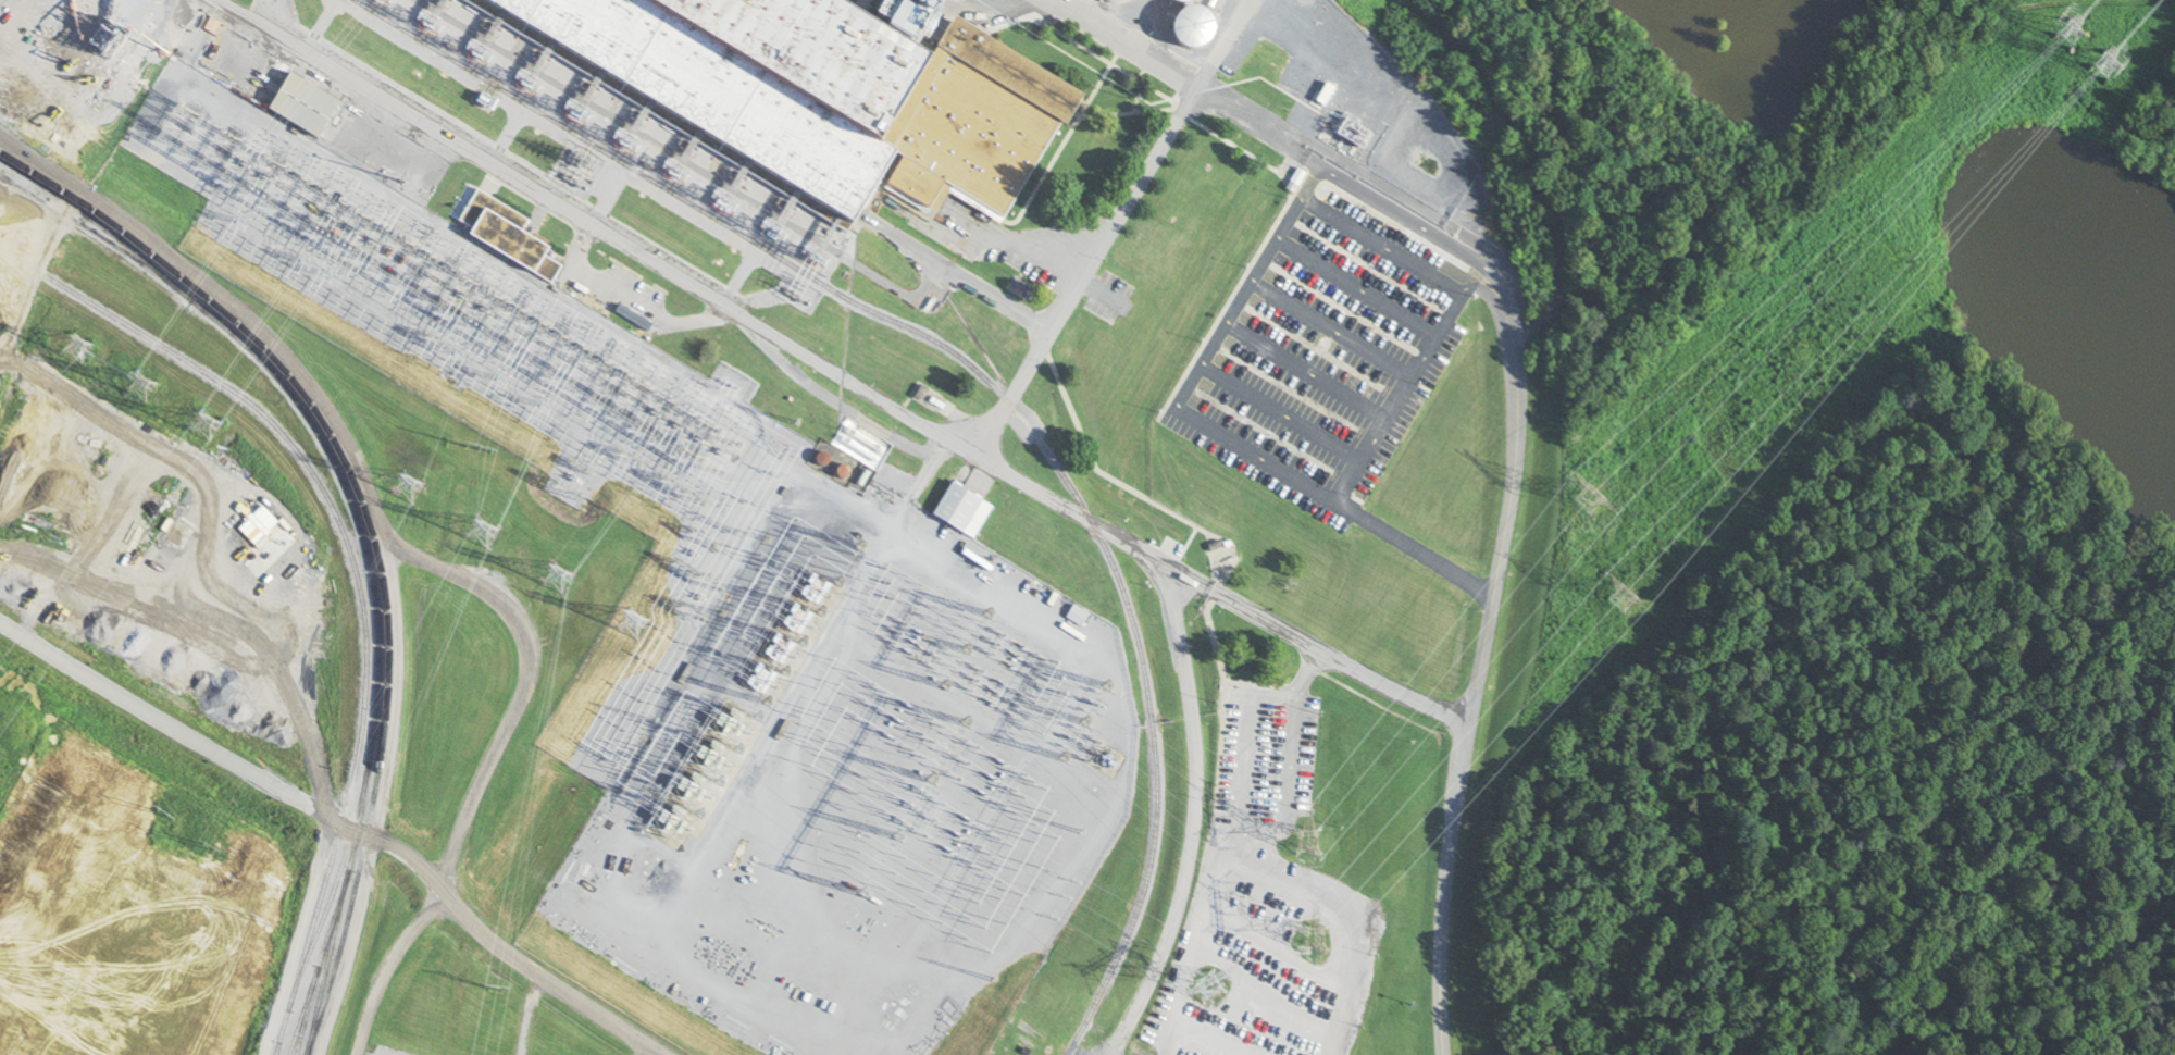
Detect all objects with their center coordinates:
building: (1194, 28)
building: (95, 36)
power tower: (2072, 36)
power tower: (2106, 71)
building: (822, 94)
building: (303, 107)
power plant: (823, 147)
building: (1, 216)
railway: (99, 223)
building: (502, 233)
road: (1077, 288)
power tower: (76, 350)
railway: (256, 359)
railway: (986, 381)
power tower: (142, 388)
road: (915, 414)
building: (861, 445)
power tower: (212, 452)
power tower: (408, 489)
power tower: (1594, 510)
building: (962, 511)
railway: (370, 526)
power tower: (486, 535)
railway: (349, 549)
power tower: (558, 579)
power tower: (1620, 600)
power tower: (634, 625)
road: (1317, 647)
power substation: (741, 657)
road: (1484, 661)
power tower: (1104, 699)
railway: (380, 702)
railway: (374, 704)
power tower: (166, 814)
railway: (359, 818)
road: (343, 822)
power tower: (1314, 839)
power tower: (210, 847)
railway: (333, 889)
power tower: (1319, 939)
railway: (320, 961)
railway: (327, 963)
power tower: (1213, 989)
power tower: (497, 992)
railway: (303, 1010)
railway: (282, 1032)
railway: (278, 1047)
power substation: (385, 1052)

